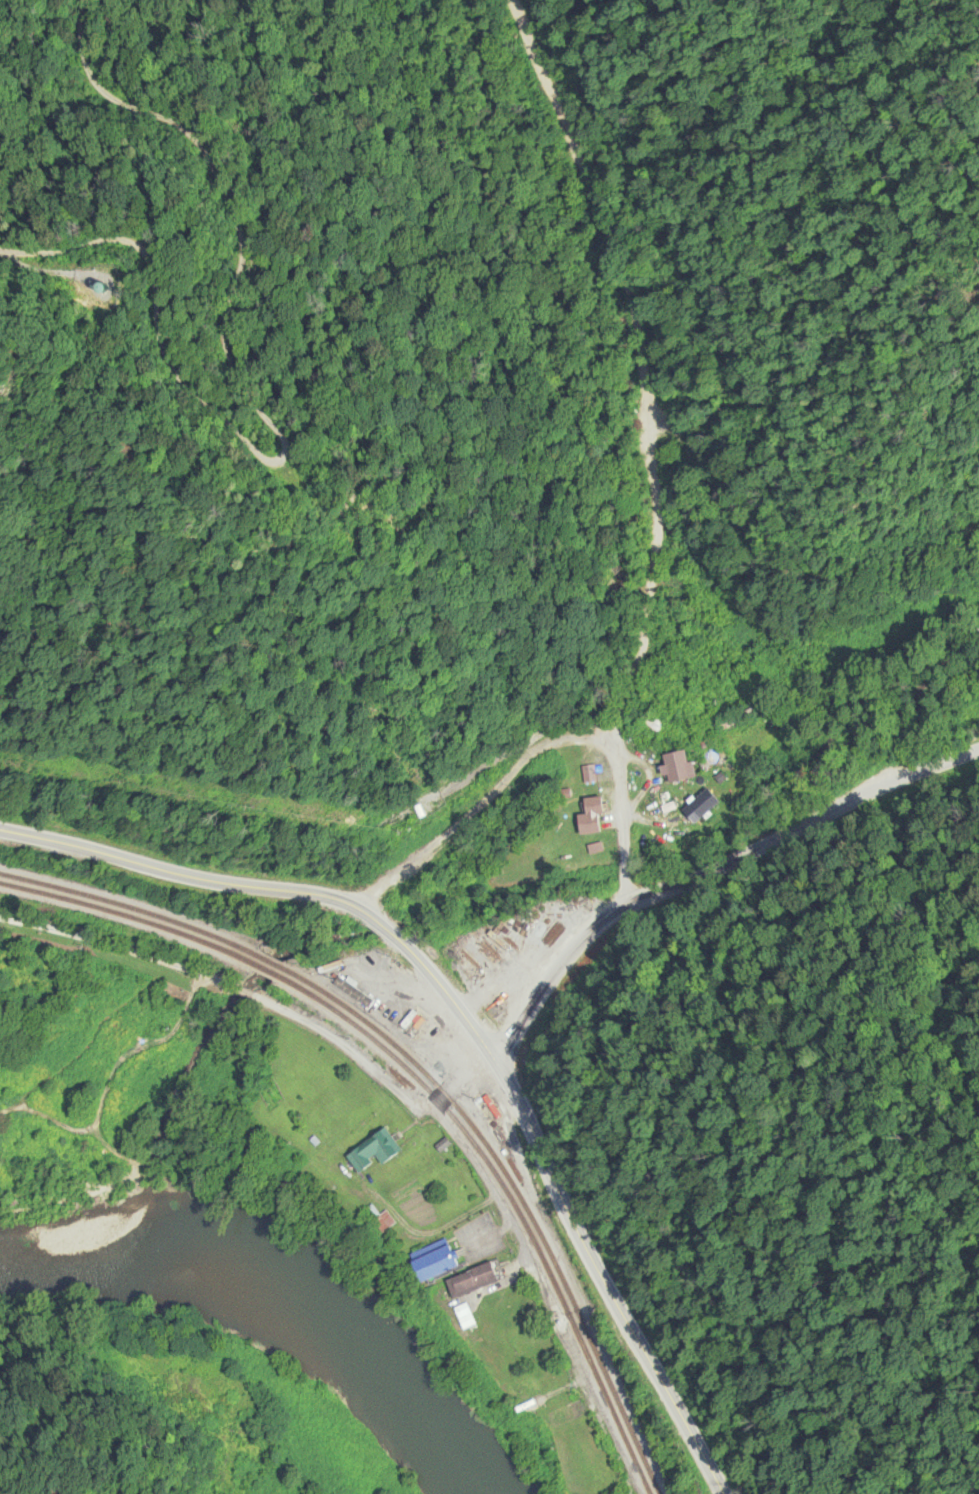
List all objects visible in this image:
building: (740, 718)
building: (653, 722)
building: (679, 768)
building: (589, 775)
building: (701, 807)
road: (621, 814)
building: (592, 817)
railway: (291, 975)
road: (468, 1027)
railway: (419, 1084)
building: (375, 1152)
building: (382, 1221)
building: (437, 1266)
building: (475, 1281)
river: (300, 1311)
building: (529, 1382)
building: (283, 1493)

